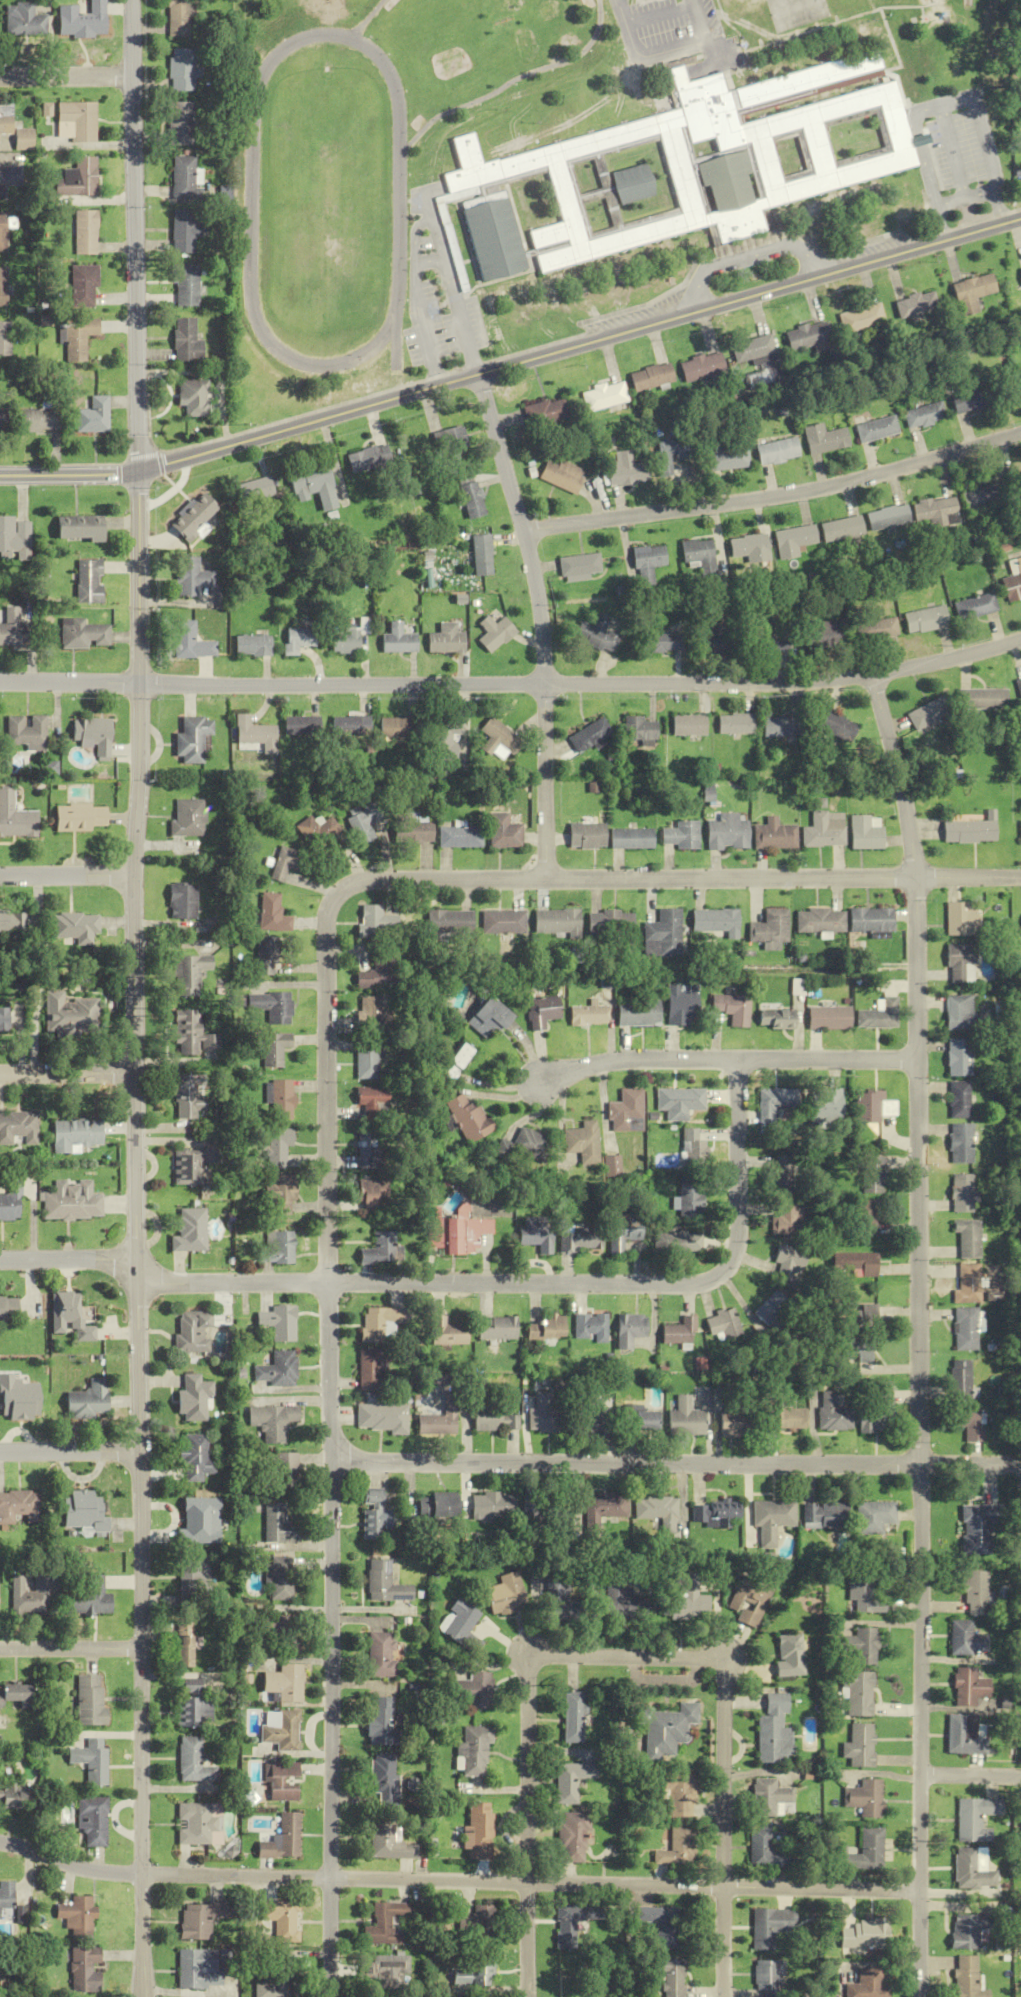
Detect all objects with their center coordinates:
park: (797, 13)
road: (659, 15)
building: (179, 16)
building: (82, 19)
building: (22, 20)
track: (365, 20)
parking lot: (679, 37)
road: (130, 38)
road: (664, 53)
building: (182, 69)
road: (66, 76)
building: (806, 79)
track: (511, 83)
road: (944, 106)
building: (46, 109)
building: (708, 109)
building: (4, 118)
building: (77, 121)
building: (180, 123)
building: (22, 139)
building: (832, 143)
parking lot: (956, 151)
road: (955, 153)
building: (488, 165)
building: (81, 177)
building: (7, 178)
building: (185, 178)
building: (559, 178)
building: (728, 180)
building: (507, 181)
building: (685, 184)
road: (967, 200)
track: (325, 202)
building: (740, 221)
building: (2, 230)
building: (183, 231)
building: (83, 232)
building: (549, 235)
building: (493, 239)
building: (454, 250)
road: (751, 257)
building: (556, 259)
road: (431, 260)
building: (187, 284)
building: (80, 285)
building: (1, 287)
road: (454, 289)
parking lot: (438, 293)
building: (973, 293)
road: (419, 298)
building: (917, 304)
building: (862, 318)
track: (398, 335)
building: (808, 336)
building: (4, 338)
building: (78, 339)
building: (187, 341)
road: (579, 345)
building: (754, 350)
building: (702, 366)
building: (651, 376)
building: (604, 396)
building: (195, 397)
building: (972, 398)
building: (546, 411)
building: (927, 415)
building: (95, 416)
building: (4, 420)
building: (39, 420)
building: (878, 429)
building: (826, 439)
building: (454, 442)
building: (778, 451)
building: (671, 455)
building: (369, 458)
building: (728, 458)
building: (627, 470)
road: (69, 473)
building: (561, 477)
building: (314, 484)
building: (254, 490)
road: (776, 496)
building: (981, 498)
building: (473, 500)
building: (936, 510)
building: (194, 517)
building: (889, 518)
building: (79, 528)
building: (843, 529)
building: (15, 537)
building: (794, 540)
building: (750, 548)
building: (483, 555)
building: (700, 555)
building: (648, 563)
building: (579, 566)
building: (192, 577)
building: (89, 581)
building: (1013, 581)
building: (976, 606)
building: (925, 619)
road: (541, 622)
building: (495, 628)
building: (877, 628)
building: (13, 629)
building: (598, 633)
building: (83, 634)
building: (824, 634)
building: (350, 636)
building: (298, 639)
building: (398, 639)
building: (446, 639)
building: (720, 639)
building: (190, 641)
building: (663, 642)
building: (771, 642)
building: (253, 645)
road: (512, 683)
building: (1019, 685)
building: (982, 698)
building: (929, 713)
building: (734, 724)
building: (687, 725)
building: (300, 726)
building: (349, 726)
building: (839, 726)
building: (778, 727)
building: (393, 728)
building: (639, 730)
building: (27, 732)
building: (93, 735)
building: (254, 735)
building: (589, 735)
building: (191, 740)
building: (498, 740)
building: (444, 741)
road: (139, 763)
building: (16, 817)
building: (81, 818)
building: (187, 818)
building: (362, 822)
building: (970, 830)
building: (1020, 830)
building: (316, 831)
building: (823, 831)
building: (411, 832)
building: (502, 832)
building: (727, 832)
building: (864, 834)
building: (586, 835)
building: (774, 835)
building: (681, 836)
building: (457, 837)
building: (631, 838)
building: (286, 863)
road: (67, 876)
road: (481, 879)
building: (183, 901)
building: (273, 914)
building: (959, 918)
building: (869, 920)
building: (818, 921)
building: (13, 922)
building: (376, 922)
building: (503, 922)
building: (557, 922)
building: (714, 922)
building: (609, 923)
building: (449, 924)
building: (76, 927)
building: (769, 929)
building: (662, 934)
building: (264, 956)
building: (959, 963)
building: (378, 971)
building: (189, 974)
building: (455, 992)
building: (682, 1004)
building: (272, 1006)
building: (733, 1009)
building: (542, 1011)
building: (369, 1013)
building: (638, 1013)
building: (959, 1013)
building: (588, 1015)
building: (878, 1015)
building: (70, 1016)
building: (488, 1018)
building: (829, 1018)
building: (775, 1019)
building: (4, 1021)
building: (193, 1035)
building: (275, 1049)
building: (957, 1057)
building: (366, 1059)
road: (726, 1060)
building: (457, 1061)
road: (68, 1073)
building: (188, 1098)
building: (282, 1099)
building: (957, 1100)
building: (369, 1103)
building: (678, 1103)
building: (775, 1104)
building: (825, 1106)
building: (866, 1107)
building: (626, 1111)
building: (469, 1118)
building: (18, 1128)
building: (76, 1134)
building: (583, 1143)
building: (959, 1143)
building: (531, 1144)
building: (279, 1147)
building: (692, 1147)
building: (368, 1150)
building: (193, 1165)
building: (782, 1174)
building: (872, 1174)
building: (962, 1193)
building: (373, 1195)
building: (282, 1196)
building: (690, 1198)
building: (73, 1201)
building: (12, 1203)
building: (867, 1217)
building: (788, 1221)
building: (192, 1231)
building: (456, 1232)
building: (538, 1233)
building: (624, 1233)
building: (581, 1238)
building: (967, 1238)
building: (678, 1242)
building: (280, 1247)
building: (384, 1247)
building: (856, 1262)
building: (790, 1264)
road: (468, 1283)
building: (966, 1283)
building: (8, 1310)
building: (70, 1316)
building: (774, 1317)
building: (857, 1317)
building: (279, 1322)
building: (380, 1323)
building: (725, 1324)
building: (592, 1327)
building: (498, 1329)
building: (548, 1329)
building: (631, 1329)
building: (965, 1329)
building: (194, 1332)
building: (448, 1332)
building: (682, 1332)
road: (918, 1333)
building: (853, 1350)
building: (372, 1368)
building: (278, 1370)
building: (960, 1380)
building: (193, 1398)
building: (17, 1399)
building: (87, 1401)
building: (878, 1411)
building: (542, 1413)
building: (833, 1413)
building: (590, 1417)
building: (383, 1418)
building: (687, 1419)
building: (785, 1419)
building: (440, 1420)
building: (495, 1420)
building: (639, 1420)
building: (271, 1422)
building: (967, 1422)
building: (733, 1423)
road: (69, 1450)
building: (194, 1458)
road: (675, 1464)
building: (283, 1471)
building: (437, 1506)
building: (493, 1506)
building: (18, 1507)
building: (534, 1507)
building: (603, 1509)
building: (563, 1510)
building: (81, 1511)
building: (658, 1512)
building: (714, 1513)
building: (374, 1515)
building: (825, 1515)
building: (873, 1517)
building: (771, 1520)
building: (197, 1521)
building: (277, 1524)
building: (975, 1530)
building: (192, 1573)
building: (277, 1577)
building: (384, 1583)
building: (975, 1593)
building: (28, 1594)
building: (862, 1594)
building: (507, 1595)
building: (685, 1595)
building: (87, 1597)
building: (618, 1599)
building: (563, 1600)
building: (748, 1601)
building: (461, 1626)
building: (279, 1632)
building: (966, 1639)
road: (331, 1640)
building: (183, 1644)
building: (857, 1645)
road: (70, 1648)
building: (379, 1654)
road: (623, 1655)
building: (788, 1655)
building: (282, 1683)
building: (968, 1687)
building: (472, 1690)
building: (857, 1693)
building: (14, 1695)
building: (88, 1699)
building: (192, 1705)
building: (573, 1717)
building: (377, 1720)
road: (140, 1723)
building: (280, 1729)
building: (666, 1729)
building: (773, 1731)
building: (966, 1735)
building: (859, 1746)
building: (472, 1750)
building: (91, 1760)
building: (192, 1761)
road: (971, 1775)
building: (382, 1776)
building: (570, 1780)
building: (281, 1782)
building: (679, 1796)
building: (769, 1797)
building: (14, 1798)
building: (865, 1798)
building: (977, 1818)
building: (93, 1821)
building: (199, 1824)
building: (478, 1832)
building: (572, 1837)
building: (282, 1839)
building: (388, 1841)
building: (677, 1848)
building: (764, 1849)
building: (865, 1851)
building: (974, 1869)
road: (457, 1881)
building: (6, 1899)
building: (78, 1916)
building: (198, 1919)
building: (282, 1919)
building: (658, 1920)
building: (384, 1924)
building: (568, 1924)
building: (478, 1925)
building: (770, 1926)
building: (973, 1930)
building: (865, 1935)
building: (199, 1968)
building: (384, 1968)
building: (84, 1970)
building: (474, 1972)
building: (768, 1973)
building: (671, 1976)
building: (970, 1978)
building: (274, 1982)
river: (13, 1983)
building: (866, 1984)

